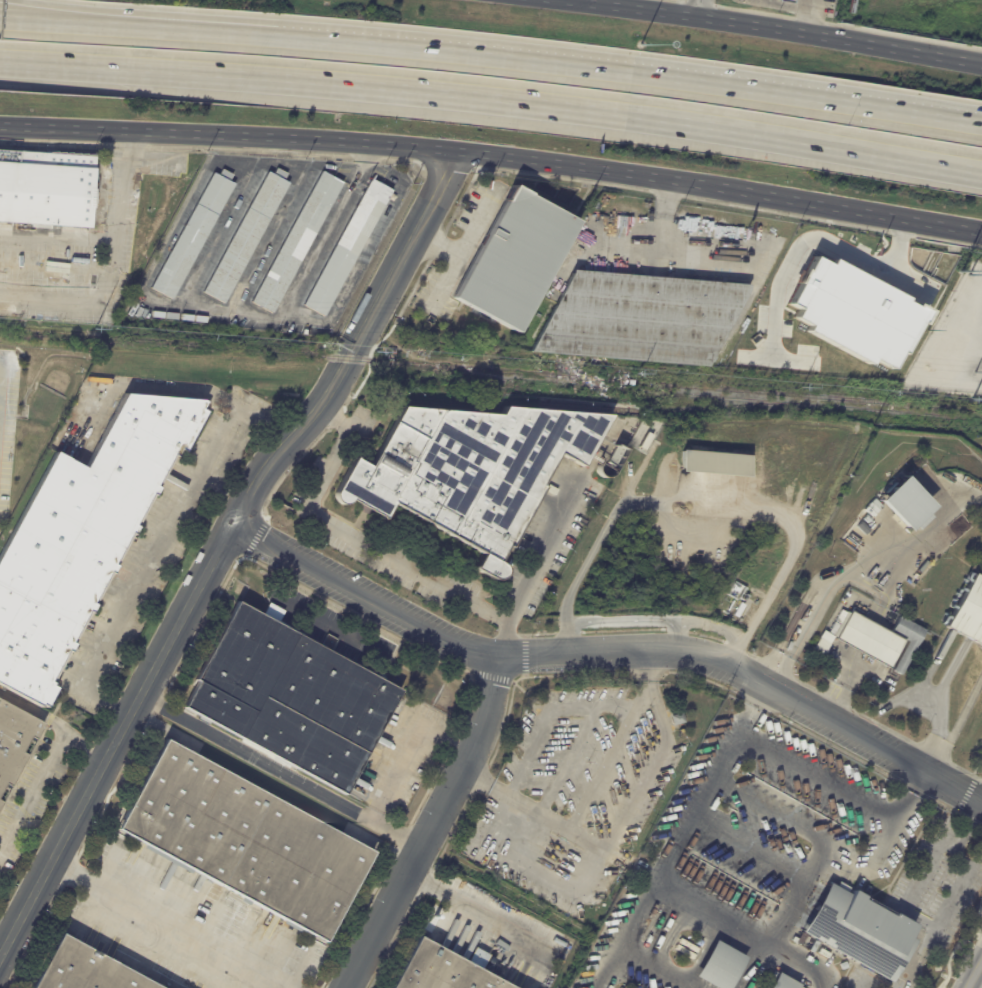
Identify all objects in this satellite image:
building: (785, 1)
gas station: (786, 2)
road: (603, 4)
road: (796, 6)
road: (699, 10)
road: (39, 14)
road: (39, 22)
road: (763, 30)
road: (531, 60)
road: (493, 100)
road: (493, 156)
building: (45, 188)
road: (178, 225)
road: (57, 234)
building: (194, 234)
building: (247, 236)
road: (272, 238)
road: (815, 239)
building: (297, 242)
road: (463, 242)
building: (348, 247)
road: (621, 249)
road: (670, 252)
building: (514, 260)
road: (54, 265)
road: (108, 267)
road: (356, 271)
road: (445, 276)
road: (903, 280)
road: (221, 307)
building: (853, 313)
building: (639, 318)
power substation: (954, 342)
railway: (490, 371)
road: (180, 392)
railway: (704, 397)
railway: (599, 405)
road: (337, 418)
road: (307, 430)
building: (714, 463)
road: (329, 468)
building: (470, 471)
road: (701, 491)
building: (907, 504)
building: (81, 536)
road: (544, 548)
road: (154, 557)
road: (858, 564)
road: (408, 566)
building: (739, 610)
building: (272, 612)
building: (969, 613)
road: (701, 622)
building: (878, 638)
road: (504, 640)
building: (824, 643)
road: (614, 648)
building: (832, 655)
building: (837, 658)
building: (289, 697)
building: (678, 719)
road: (57, 723)
road: (936, 724)
building: (16, 746)
road: (460, 748)
road: (259, 760)
road: (405, 765)
road: (818, 778)
road: (32, 788)
road: (589, 794)
road: (980, 796)
road: (971, 824)
road: (429, 827)
road: (679, 831)
road: (73, 832)
road: (396, 834)
building: (246, 840)
road: (823, 849)
road: (470, 908)
road: (920, 920)
road: (176, 923)
building: (858, 930)
building: (689, 946)
building: (814, 947)
building: (685, 952)
building: (824, 954)
building: (476, 959)
road: (802, 960)
building: (724, 965)
building: (591, 968)
building: (86, 969)
building: (442, 970)
road: (646, 970)
road: (974, 973)
building: (785, 983)

